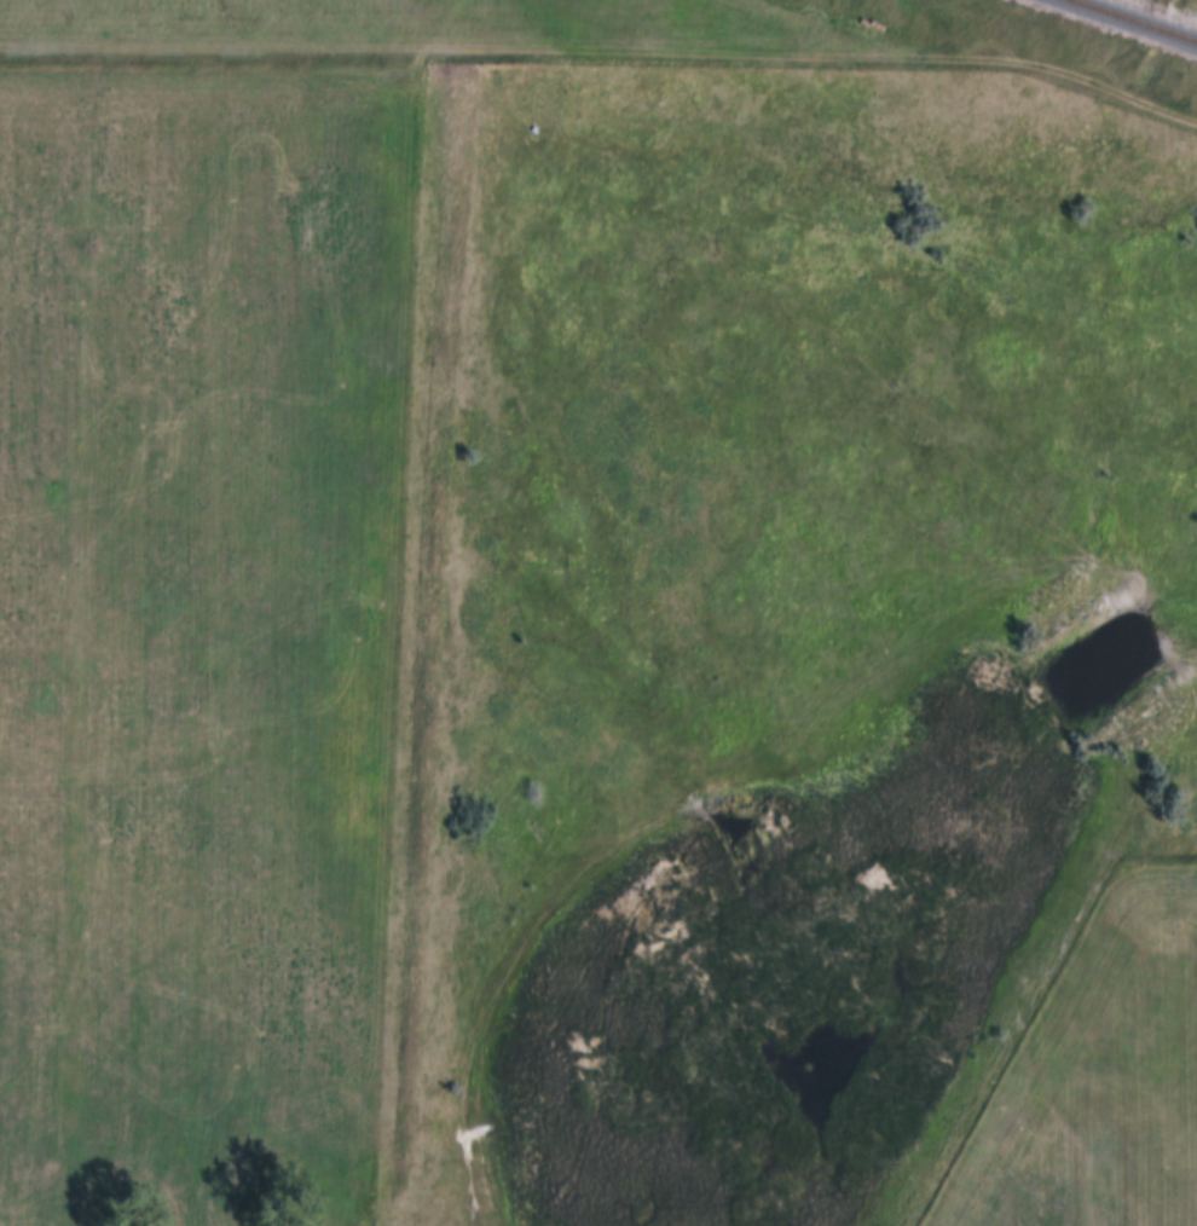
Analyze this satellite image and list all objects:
railway: (1133, 21)

